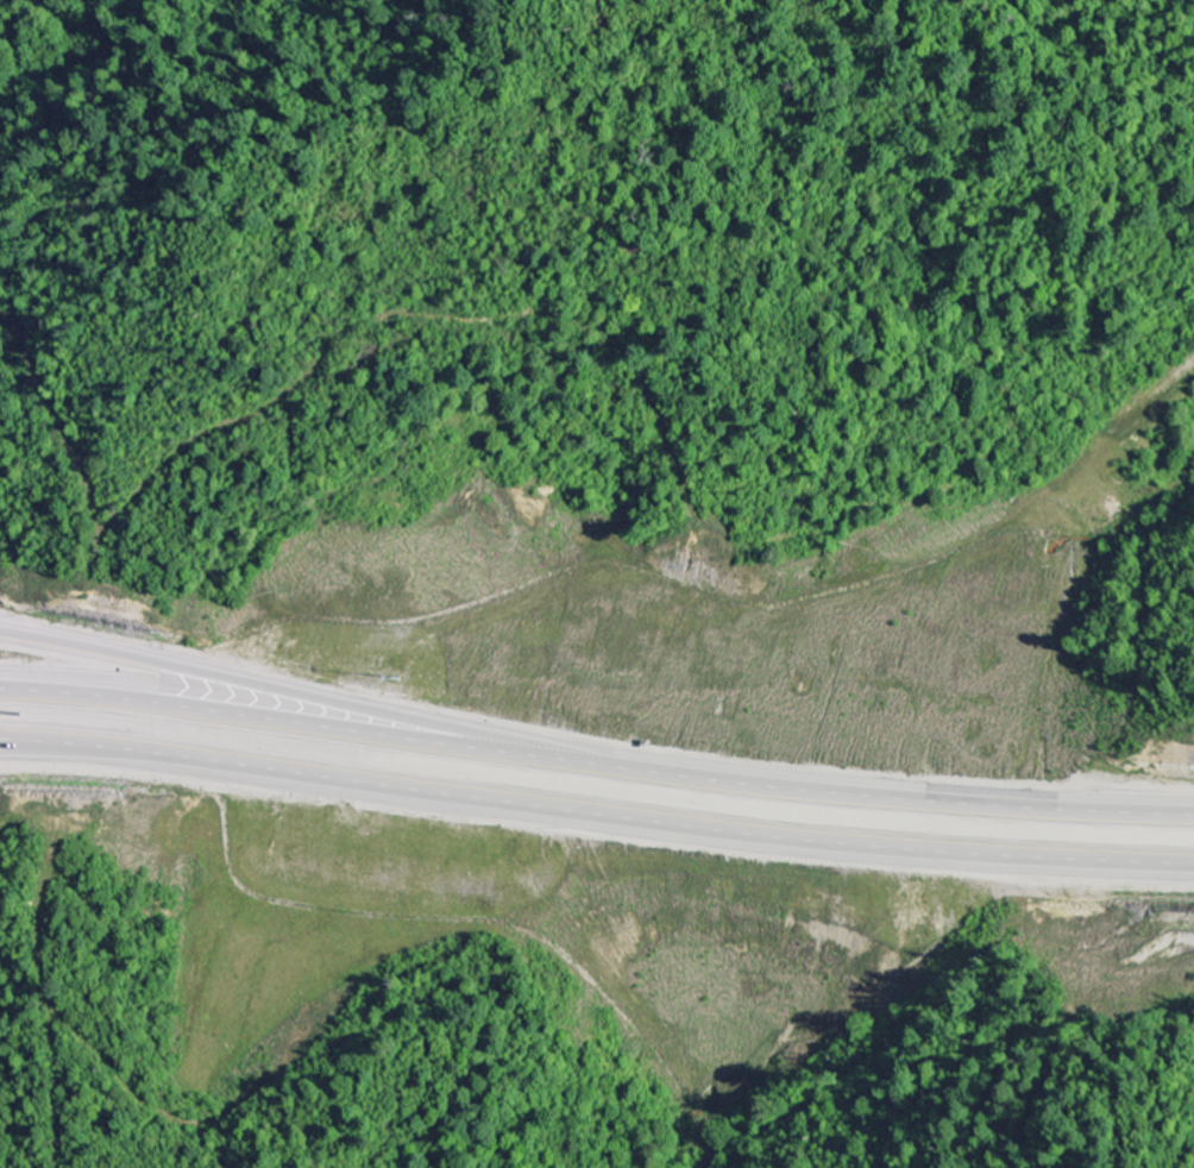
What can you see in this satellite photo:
road: (297, 702)
road: (596, 765)
road: (596, 816)

